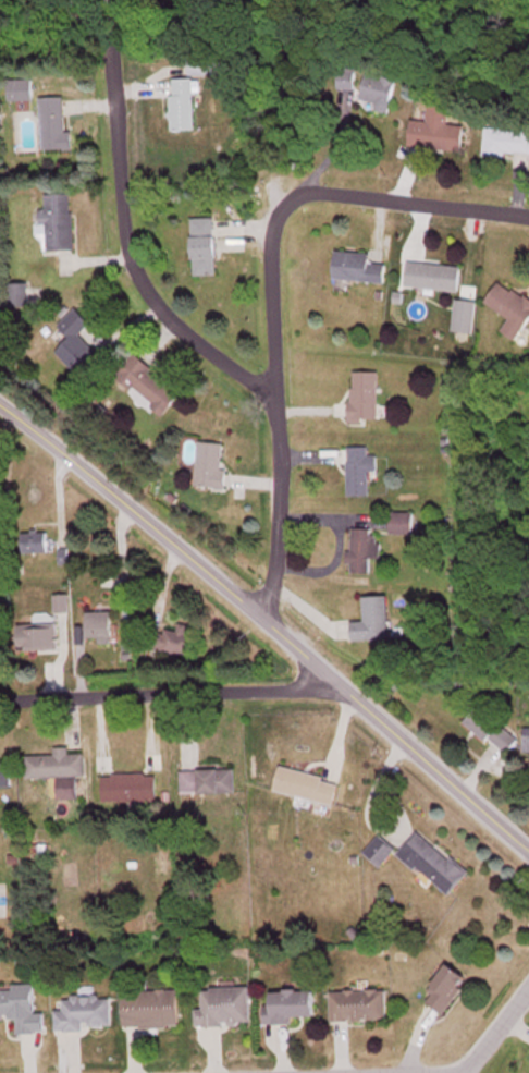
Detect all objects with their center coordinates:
building: (208, 70)
building: (352, 81)
building: (384, 92)
building: (19, 93)
building: (185, 108)
building: (57, 127)
building: (441, 133)
building: (508, 143)
building: (58, 224)
building: (206, 248)
building: (359, 270)
road: (132, 275)
building: (434, 279)
road: (266, 282)
building: (21, 296)
building: (512, 312)
building: (466, 318)
building: (76, 342)
building: (148, 388)
building: (365, 398)
building: (211, 467)
building: (360, 474)
building: (403, 525)
building: (36, 545)
building: (365, 552)
road: (270, 623)
building: (376, 623)
building: (97, 636)
building: (42, 638)
building: (176, 644)
road: (171, 693)
building: (497, 735)
building: (527, 749)
building: (57, 768)
building: (5, 778)
building: (205, 779)
building: (308, 789)
building: (131, 791)
building: (381, 855)
building: (434, 866)
building: (447, 991)
building: (291, 1009)
building: (360, 1009)
building: (226, 1011)
building: (23, 1012)
building: (153, 1012)
building: (86, 1016)
road: (495, 1029)

